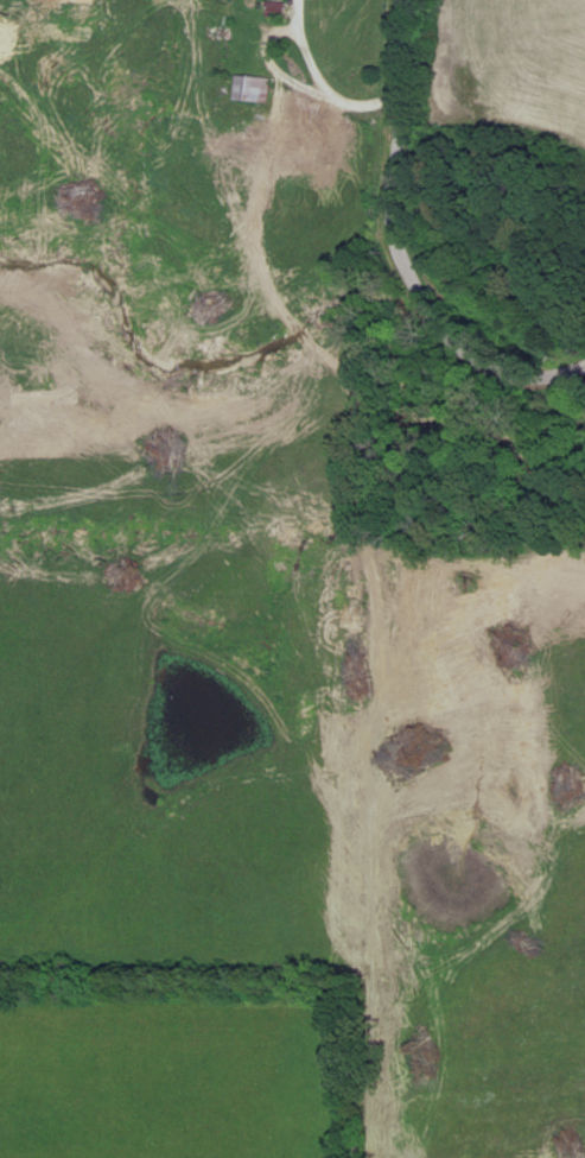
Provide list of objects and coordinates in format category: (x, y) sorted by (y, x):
building: (280, 11)
building: (78, 15)
road: (272, 67)
road: (322, 84)
building: (256, 90)
road: (394, 156)
road: (492, 365)

